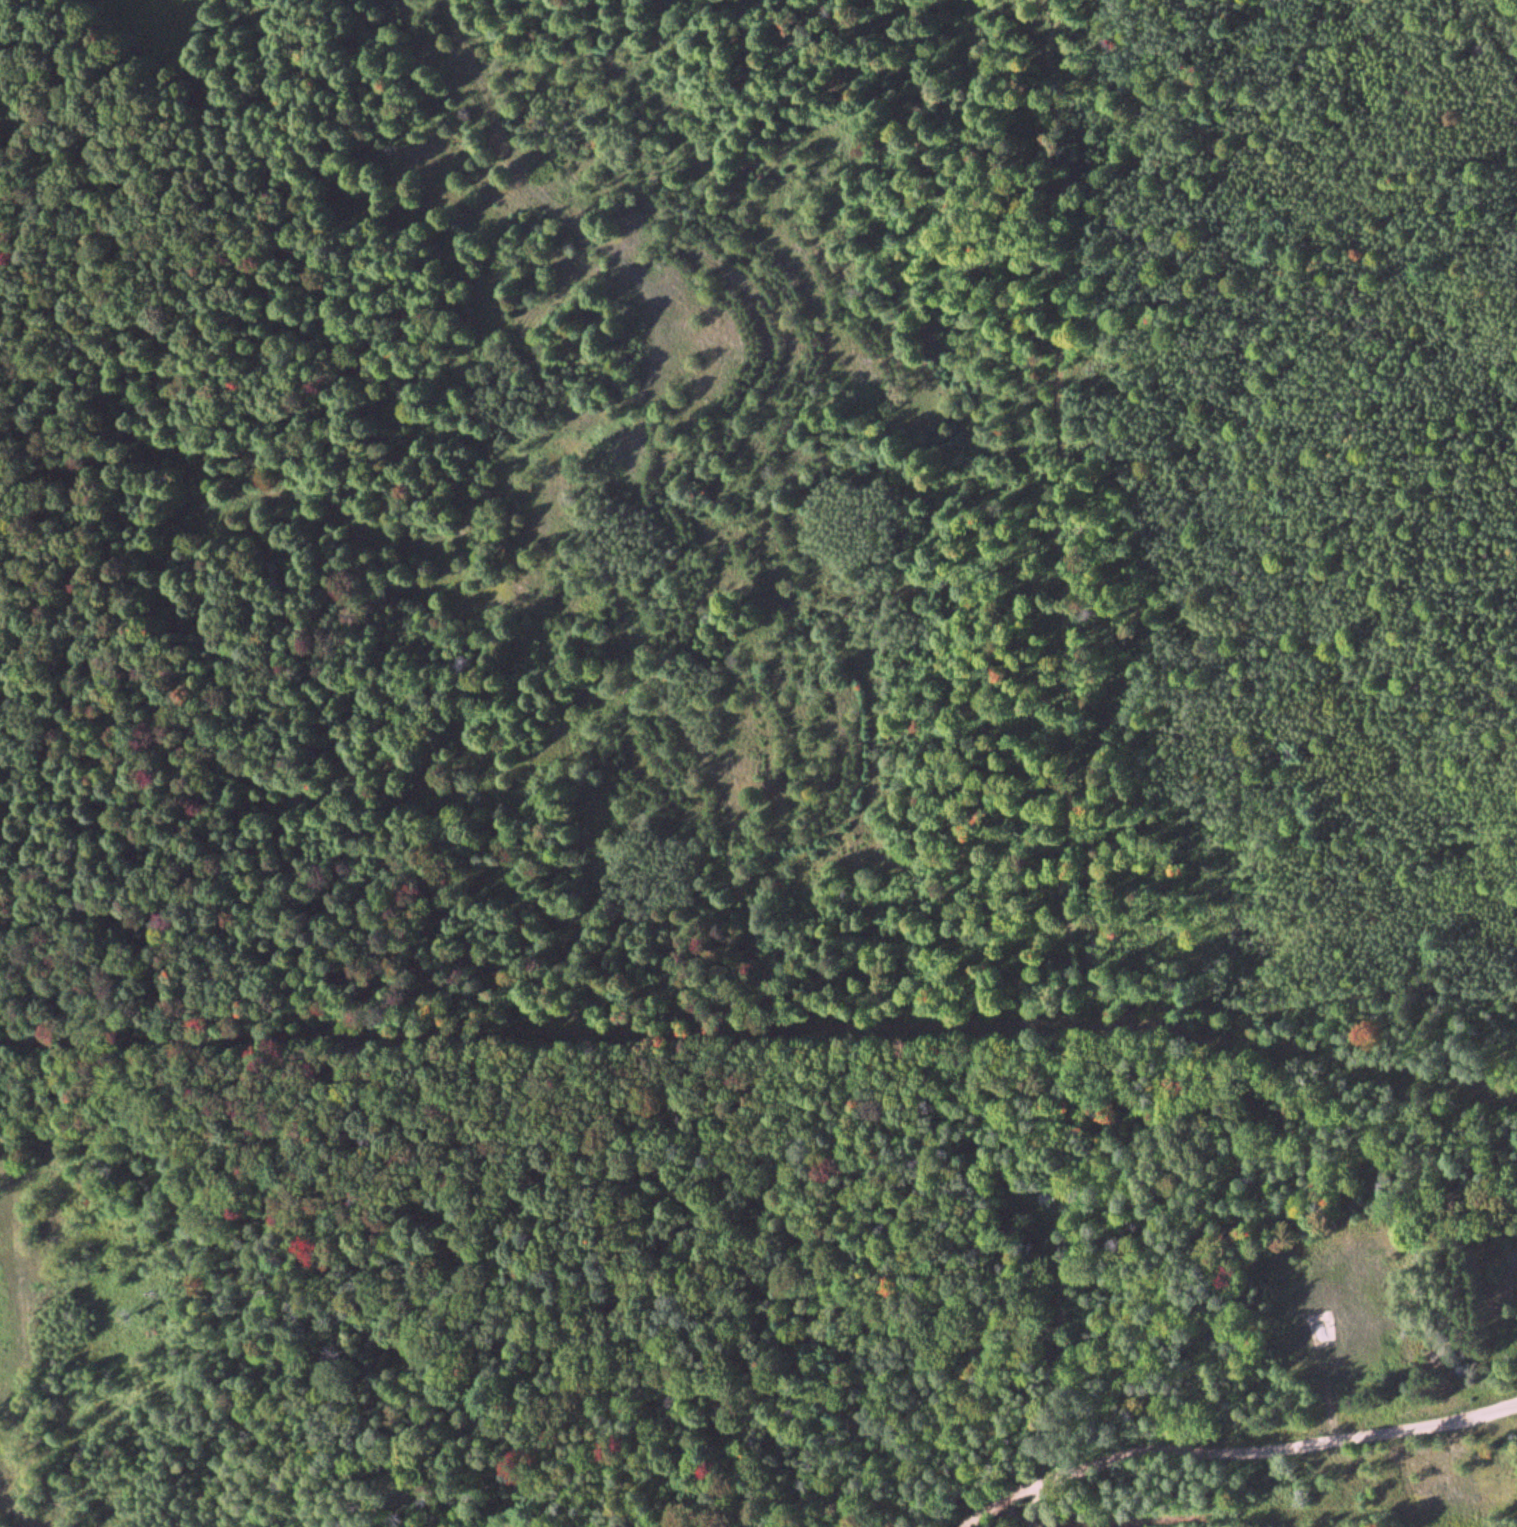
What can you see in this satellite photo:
road: (1046, 1016)
petroleum well: (1324, 1326)
road: (1238, 1452)
road: (1038, 1508)

